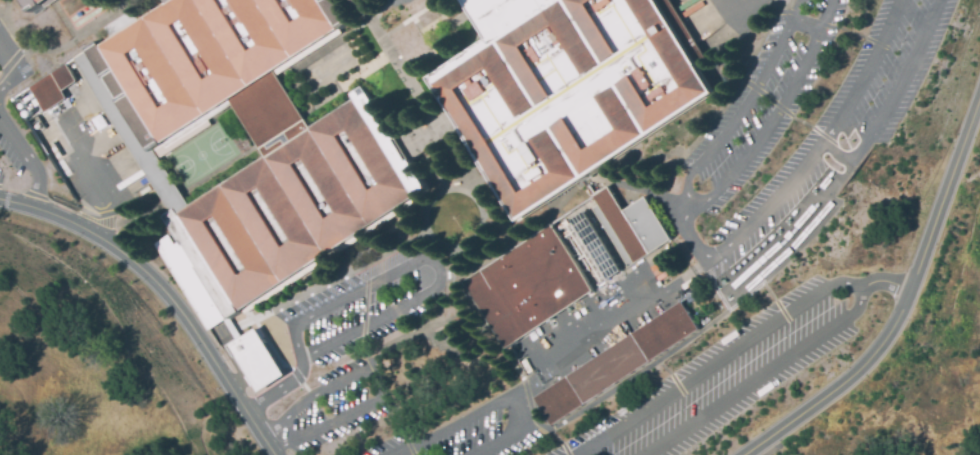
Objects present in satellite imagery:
road: (791, 2)
road: (795, 3)
road: (784, 4)
building: (35, 5)
road: (385, 8)
road: (444, 19)
road: (845, 28)
road: (11, 30)
road: (422, 33)
road: (82, 34)
road: (759, 40)
road: (326, 47)
road: (11, 60)
road: (9, 65)
road: (344, 81)
building: (51, 87)
building: (567, 88)
road: (740, 109)
road: (788, 112)
road: (772, 118)
road: (711, 119)
building: (258, 138)
road: (108, 147)
park: (203, 155)
road: (457, 155)
road: (26, 159)
road: (482, 176)
road: (609, 181)
road: (95, 183)
road: (15, 188)
road: (6, 194)
road: (37, 194)
road: (63, 205)
road: (498, 212)
road: (681, 212)
road: (96, 219)
road: (75, 224)
building: (629, 226)
road: (473, 239)
building: (592, 246)
road: (427, 263)
road: (643, 265)
road: (880, 284)
building: (526, 286)
road: (755, 287)
road: (450, 288)
road: (728, 288)
road: (900, 300)
road: (283, 304)
road: (629, 315)
road: (445, 337)
road: (364, 348)
road: (252, 358)
road: (209, 359)
building: (257, 359)
building: (618, 362)
road: (712, 365)
road: (641, 372)
road: (759, 375)
road: (236, 379)
road: (302, 379)
road: (678, 388)
road: (278, 389)
road: (493, 404)
road: (531, 407)
road: (561, 441)
road: (900, 454)

